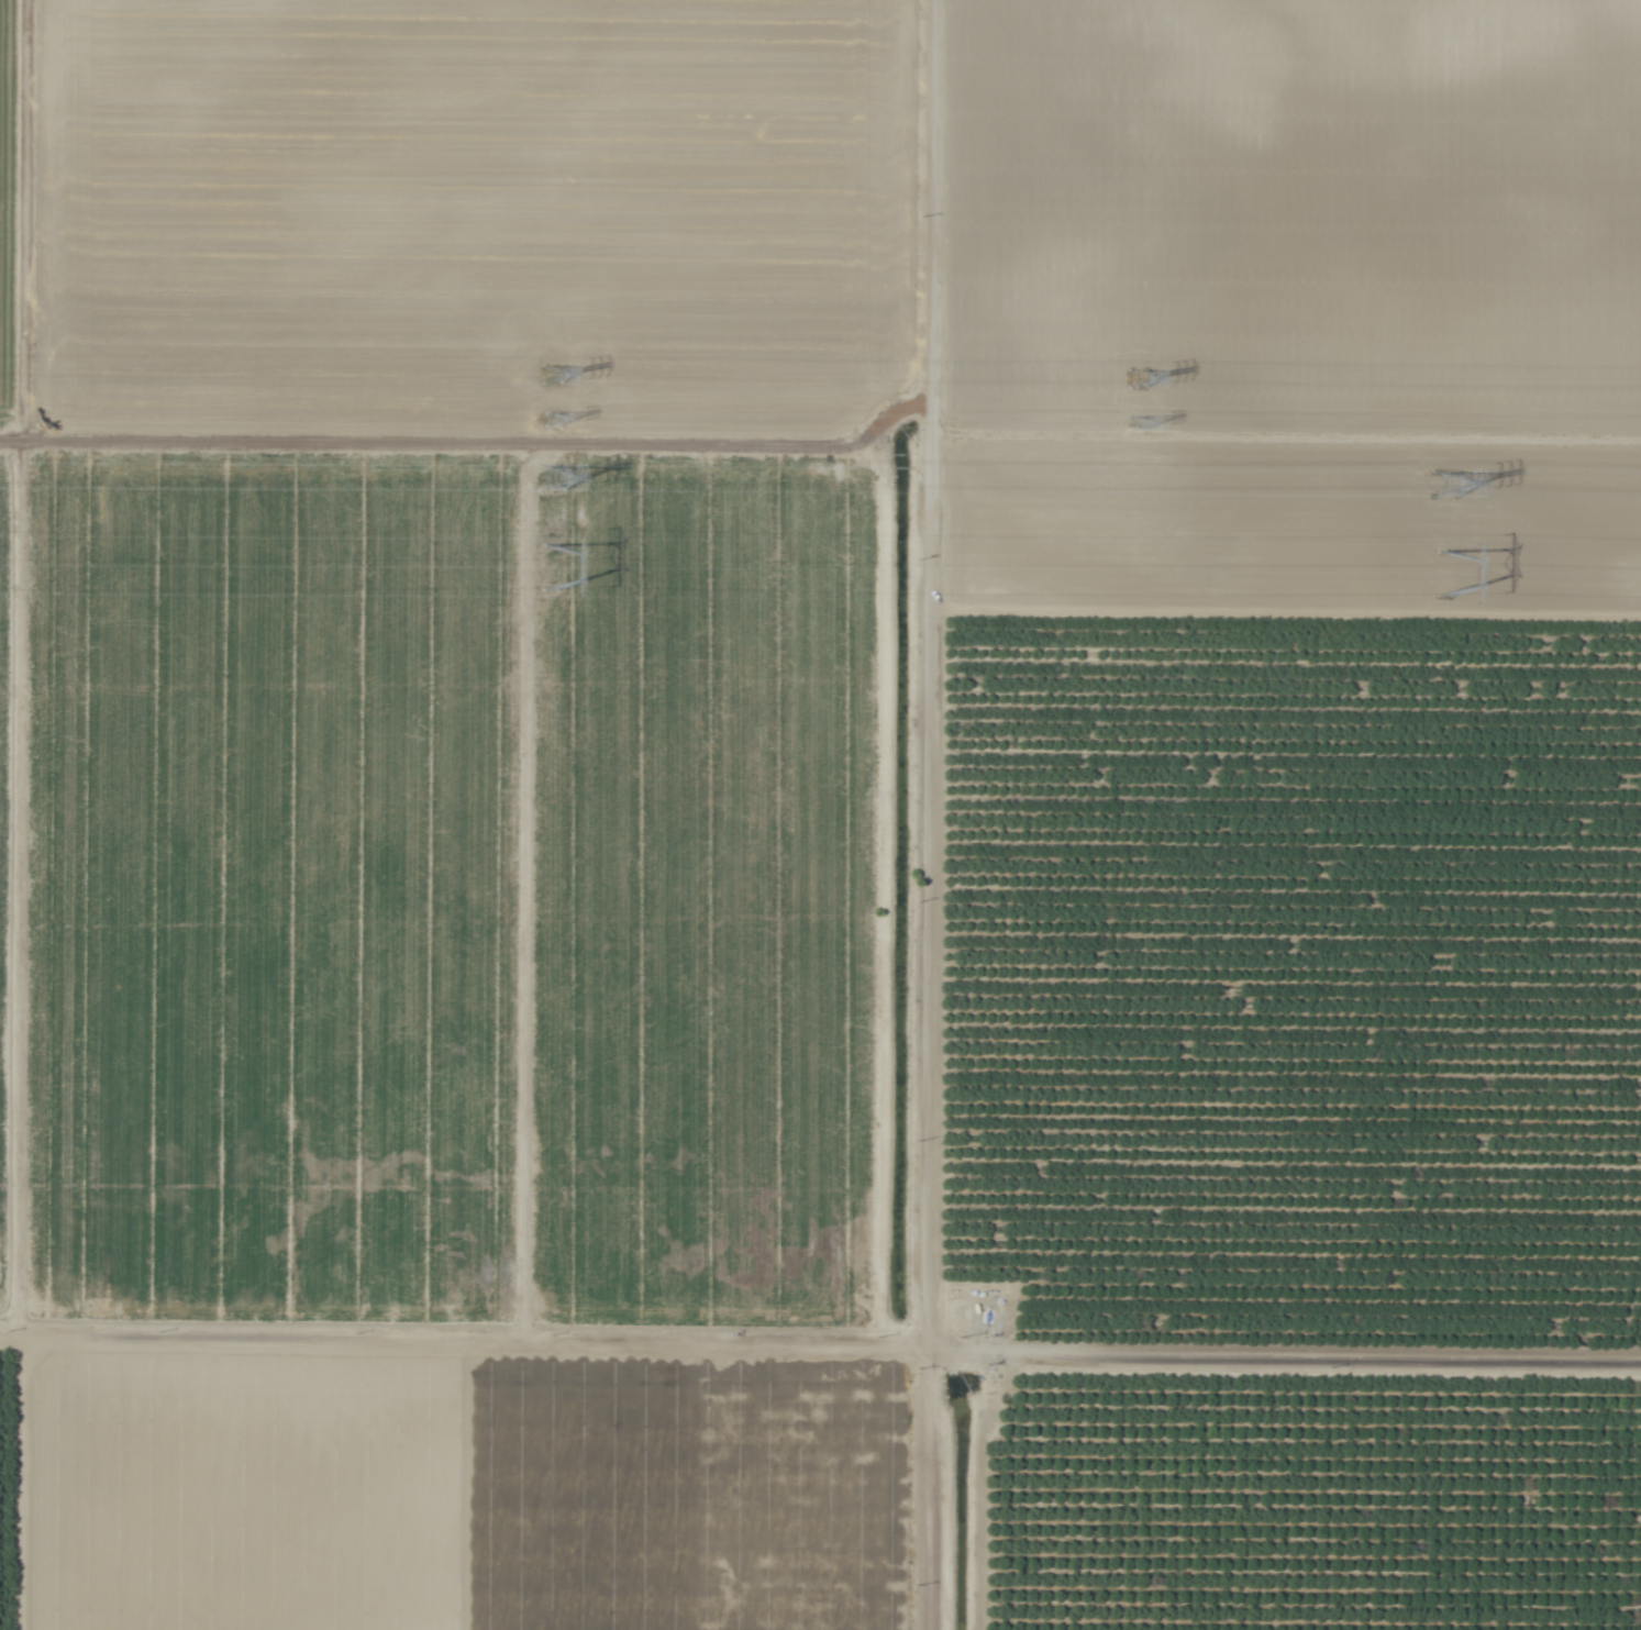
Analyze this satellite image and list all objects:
power tower: (551, 378)
power tower: (1138, 381)
power tower: (555, 423)
power tower: (1142, 426)
power tower: (555, 479)
power tower: (1449, 488)
power tower: (550, 572)
power tower: (1452, 578)
road: (1283, 608)
crop: (820, 814)
road: (921, 814)
road: (457, 1339)
road: (1278, 1350)
road: (13, 1484)

